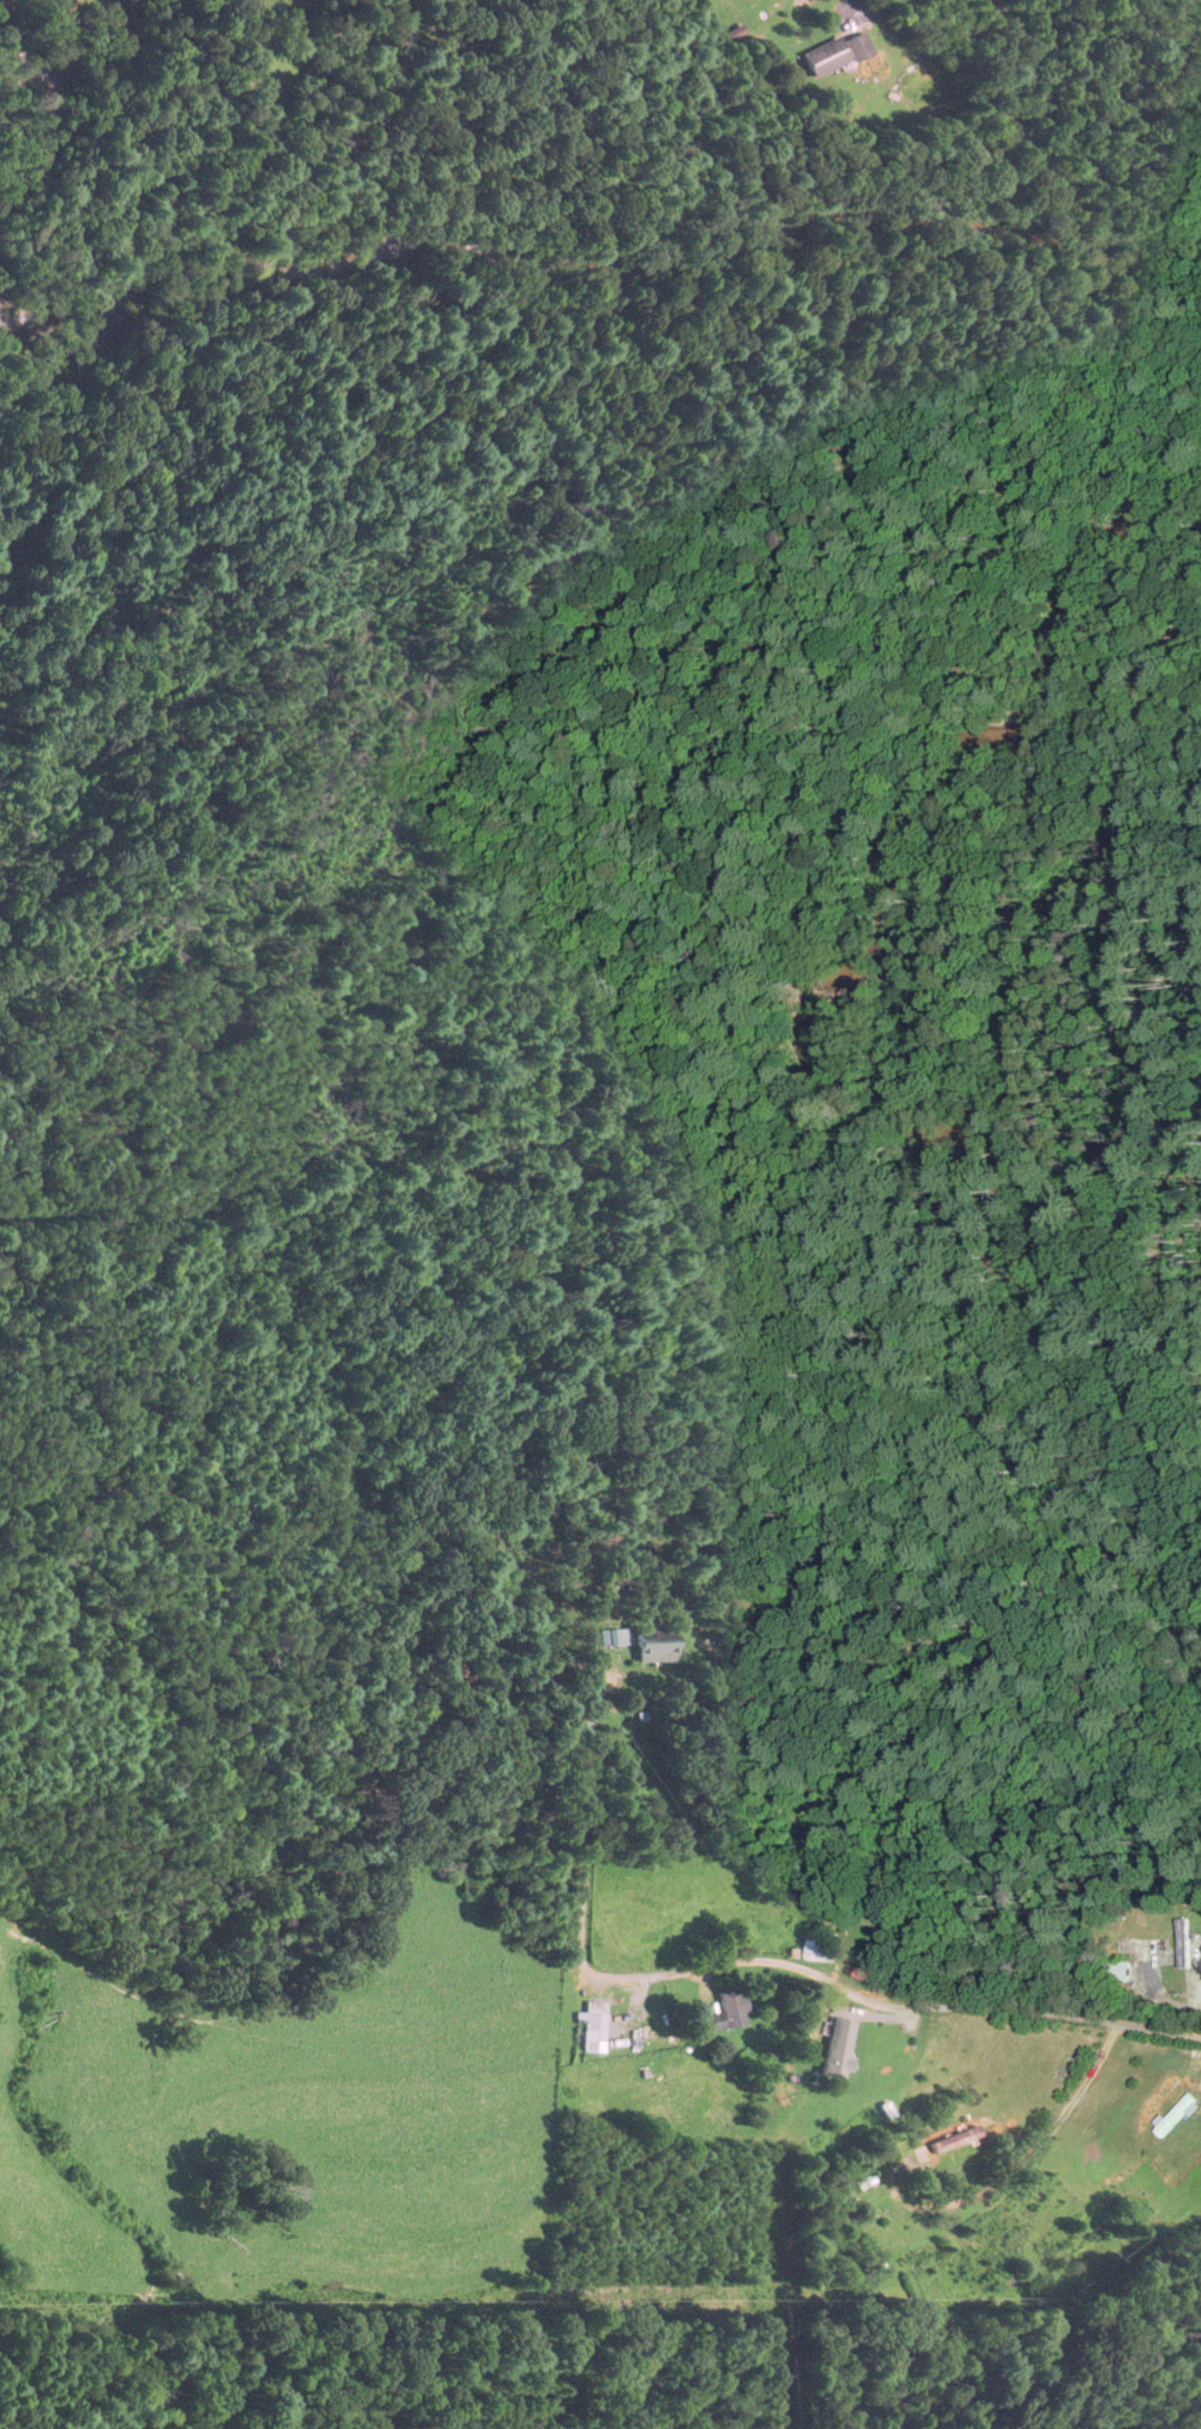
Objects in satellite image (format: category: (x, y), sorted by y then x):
building: (829, 53)
river: (73, 112)
river: (631, 246)
river: (31, 344)
river: (876, 1085)
building: (655, 1647)
road: (584, 1828)
building: (1179, 1942)
building: (812, 1952)
building: (1115, 1971)
road: (903, 2006)
building: (725, 2011)
building: (588, 2028)
building: (1191, 2067)
building: (1171, 2114)
building: (937, 2147)
road: (986, 2176)

